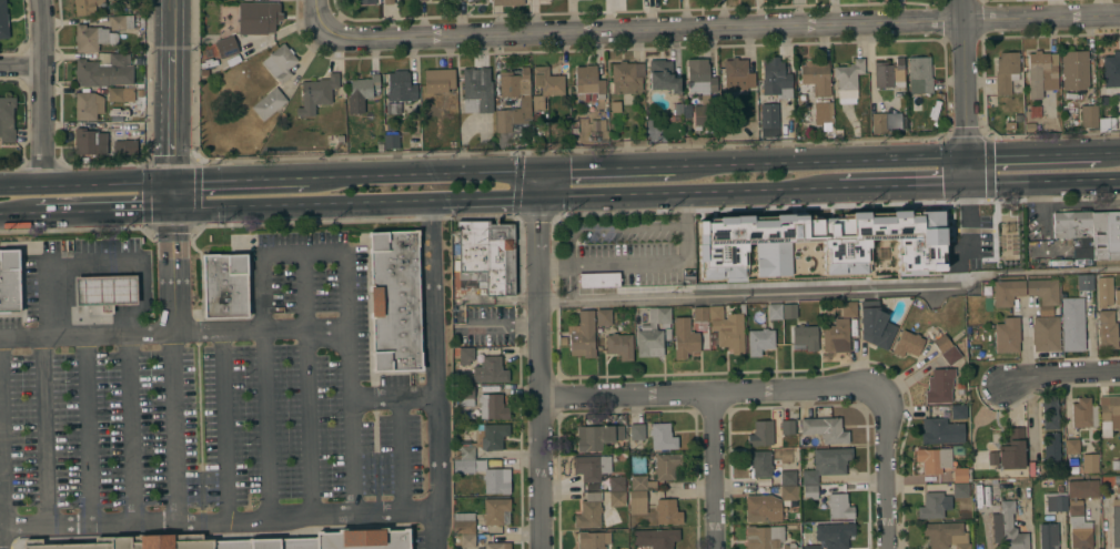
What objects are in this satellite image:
building: (420, 0)
building: (365, 1)
building: (389, 2)
building: (506, 2)
building: (85, 6)
building: (3, 13)
road: (316, 14)
building: (256, 18)
building: (121, 22)
road: (174, 26)
road: (720, 27)
building: (91, 38)
building: (225, 47)
building: (280, 62)
road: (22, 65)
building: (1111, 69)
building: (1074, 70)
building: (104, 71)
building: (1006, 71)
building: (889, 73)
building: (1040, 73)
building: (737, 74)
building: (919, 74)
building: (663, 75)
building: (816, 75)
building: (626, 77)
building: (777, 77)
road: (965, 78)
building: (438, 80)
building: (848, 80)
building: (588, 81)
building: (516, 84)
building: (546, 85)
building: (364, 87)
building: (401, 87)
building: (476, 90)
building: (700, 90)
road: (43, 92)
building: (316, 93)
building: (121, 94)
building: (269, 103)
building: (88, 105)
building: (393, 109)
building: (827, 112)
building: (1089, 115)
road: (173, 118)
building: (7, 119)
building: (769, 119)
building: (503, 120)
building: (879, 122)
building: (601, 128)
building: (120, 129)
building: (90, 141)
building: (391, 141)
road: (1043, 154)
traffic signals: (967, 156)
road: (819, 160)
road: (606, 167)
road: (967, 170)
traffic signals: (539, 171)
road: (420, 174)
road: (236, 181)
road: (1043, 181)
traffic signals: (171, 183)
road: (85, 184)
traffic signals: (968, 184)
road: (902, 185)
road: (687, 191)
road: (171, 196)
traffic signals: (538, 196)
road: (516, 203)
road: (355, 204)
traffic signals: (172, 210)
road: (103, 212)
road: (18, 215)
building: (1002, 218)
building: (1072, 224)
building: (1106, 235)
building: (1005, 242)
building: (720, 250)
road: (340, 253)
building: (484, 255)
building: (999, 261)
road: (644, 262)
road: (100, 263)
building: (598, 279)
building: (9, 281)
building: (1083, 282)
building: (224, 285)
road: (829, 289)
building: (1043, 289)
building: (105, 291)
gas station: (105, 291)
building: (1104, 291)
building: (1007, 292)
building: (1117, 296)
building: (394, 301)
building: (848, 308)
building: (780, 311)
building: (699, 313)
building: (603, 316)
building: (1072, 324)
building: (875, 325)
building: (727, 328)
building: (1107, 329)
road: (174, 331)
building: (653, 333)
building: (1046, 333)
building: (583, 335)
building: (836, 335)
building: (1007, 335)
building: (684, 337)
building: (805, 337)
building: (760, 340)
building: (941, 343)
building: (908, 344)
building: (619, 345)
building: (950, 355)
road: (537, 359)
building: (485, 362)
road: (175, 366)
road: (433, 375)
road: (1061, 377)
road: (310, 385)
building: (939, 385)
road: (707, 392)
building: (466, 395)
road: (393, 399)
building: (493, 407)
building: (958, 410)
building: (1049, 411)
parking lot: (216, 413)
building: (1083, 413)
building: (1109, 414)
road: (265, 424)
road: (223, 425)
road: (132, 427)
building: (787, 427)
road: (90, 428)
building: (824, 428)
road: (44, 430)
building: (941, 430)
building: (761, 434)
building: (654, 435)
building: (597, 436)
building: (483, 440)
building: (1072, 446)
road: (1, 449)
building: (1051, 449)
building: (1010, 451)
road: (401, 457)
road: (354, 458)
building: (934, 459)
building: (467, 461)
building: (760, 462)
building: (1088, 462)
building: (826, 464)
building: (666, 465)
building: (591, 467)
road: (714, 469)
road: (887, 469)
building: (961, 475)
building: (487, 476)
building: (789, 477)
building: (640, 482)
building: (616, 484)
building: (1082, 488)
building: (960, 489)
building: (809, 491)
building: (789, 492)
building: (616, 498)
building: (637, 501)
building: (1056, 501)
building: (839, 506)
building: (931, 506)
building: (763, 508)
building: (496, 510)
building: (589, 511)
building: (667, 511)
building: (611, 517)
building: (1116, 519)
road: (216, 521)
building: (463, 522)
building: (1079, 526)
building: (1011, 528)
building: (835, 533)
building: (945, 535)
building: (1048, 536)
building: (655, 538)
building: (767, 538)
building: (363, 539)
building: (464, 540)
building: (593, 540)
building: (130, 542)
building: (268, 543)
building: (809, 543)
building: (496, 546)

